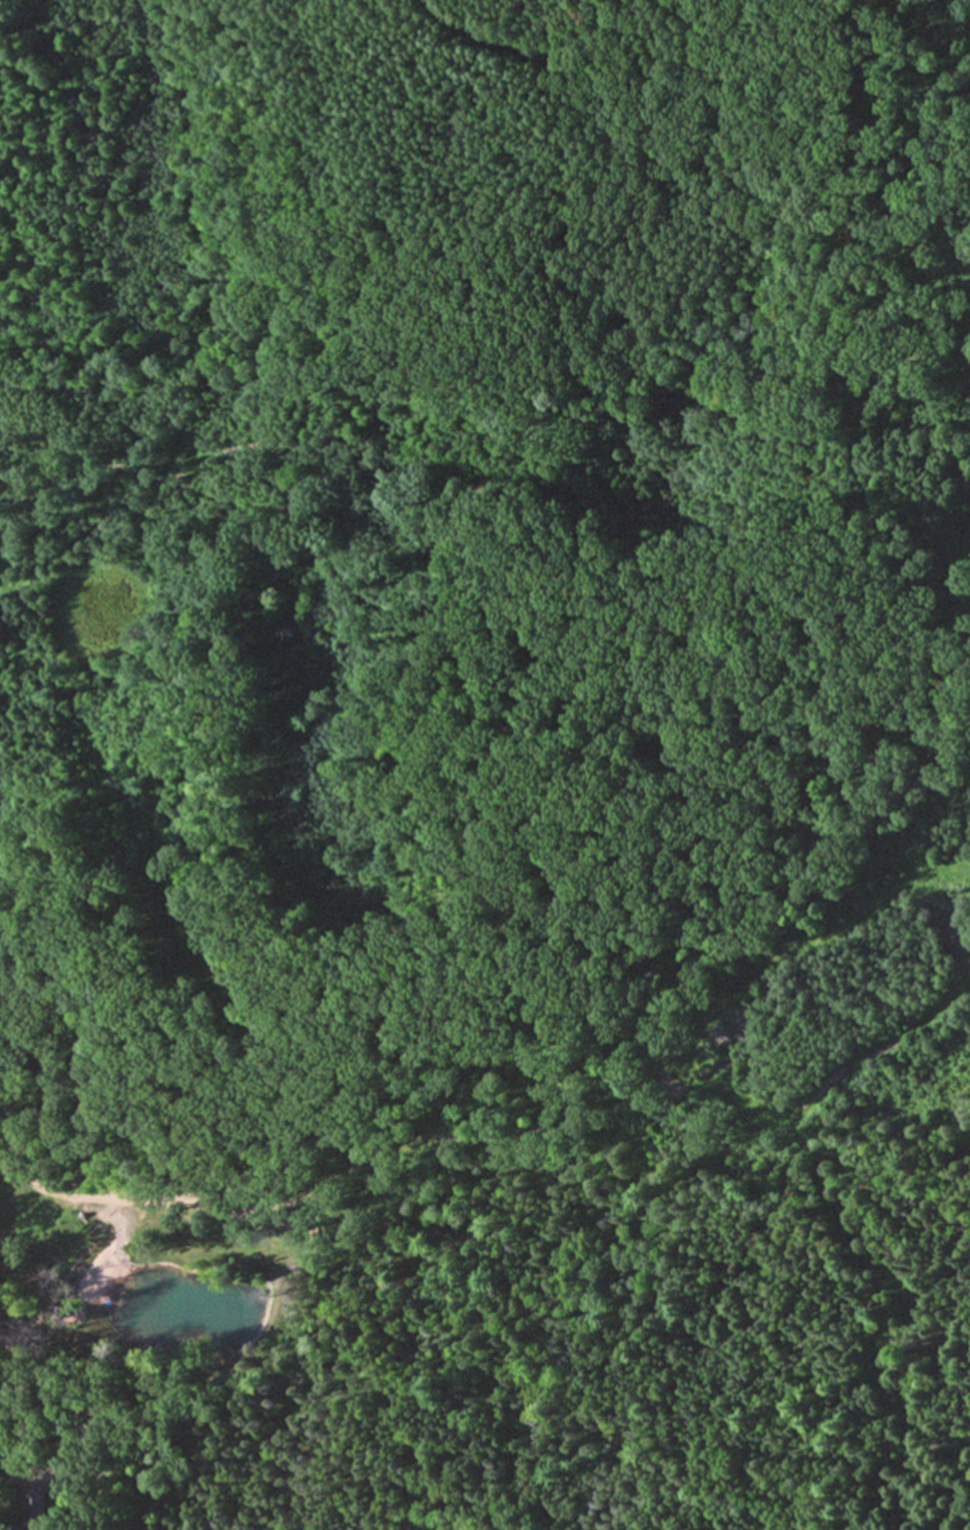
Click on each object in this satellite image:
road: (80, 1194)
building: (209, 1249)

